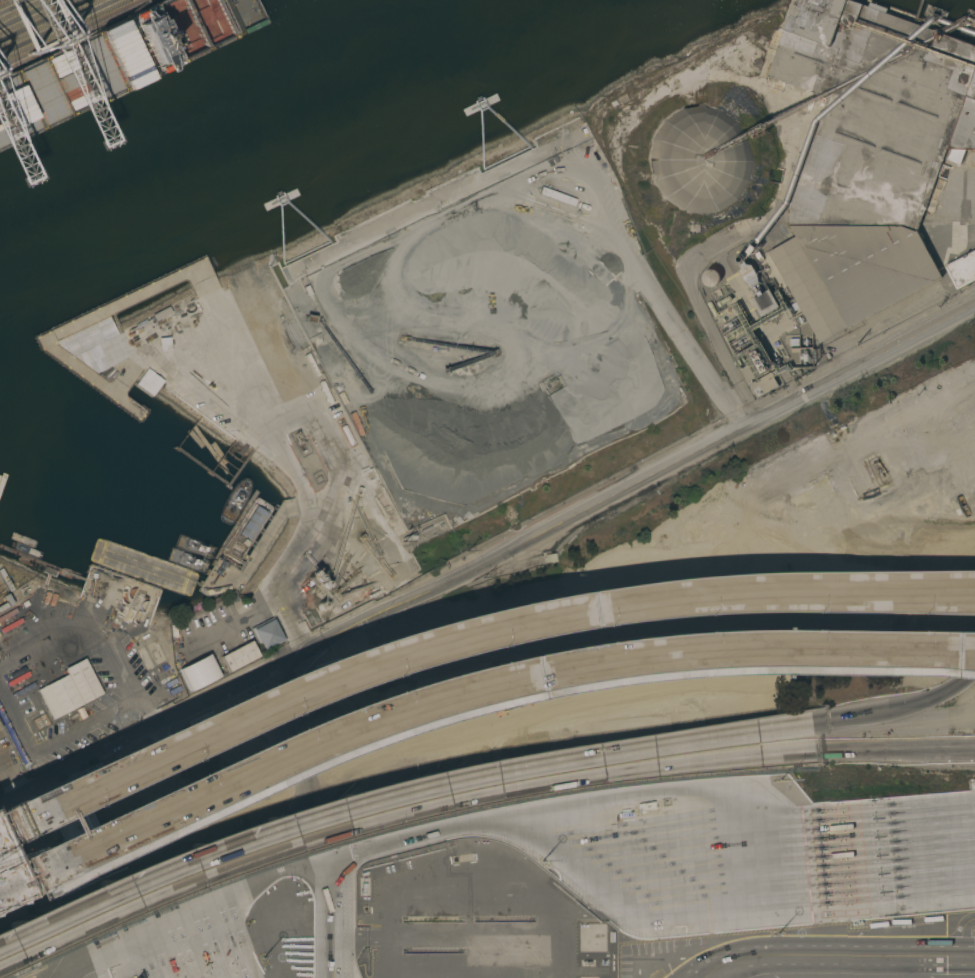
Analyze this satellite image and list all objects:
building: (215, 18)
building: (868, 154)
building: (698, 160)
building: (962, 269)
building: (710, 277)
storage tank: (710, 277)
building: (765, 301)
road: (702, 314)
power plant: (758, 319)
building: (120, 347)
building: (752, 362)
building: (149, 382)
building: (764, 384)
building: (807, 449)
petroleum well: (878, 470)
building: (762, 473)
building: (253, 523)
road: (289, 557)
road: (488, 559)
building: (553, 559)
road: (469, 631)
building: (267, 633)
road: (858, 649)
building: (142, 656)
building: (239, 657)
road: (858, 658)
building: (198, 672)
road: (129, 679)
building: (69, 689)
road: (93, 721)
road: (357, 721)
road: (295, 727)
road: (15, 780)
road: (651, 826)
building: (42, 864)
road: (330, 883)
road: (190, 907)
road: (964, 923)
road: (960, 944)
road: (828, 952)

